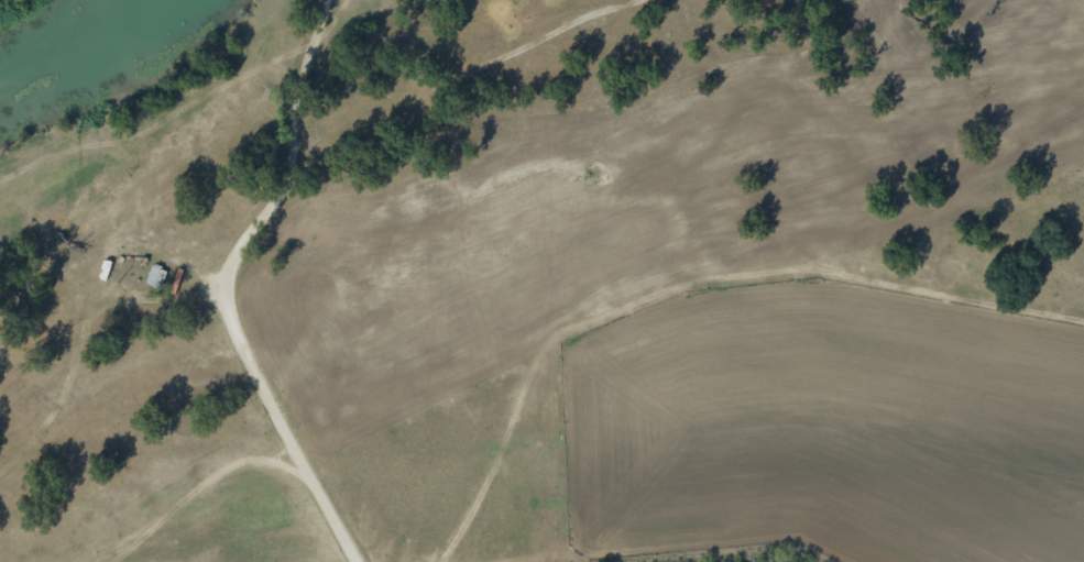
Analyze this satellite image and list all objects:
river: (48, 33)
road: (335, 77)
road: (523, 106)
road: (264, 362)

